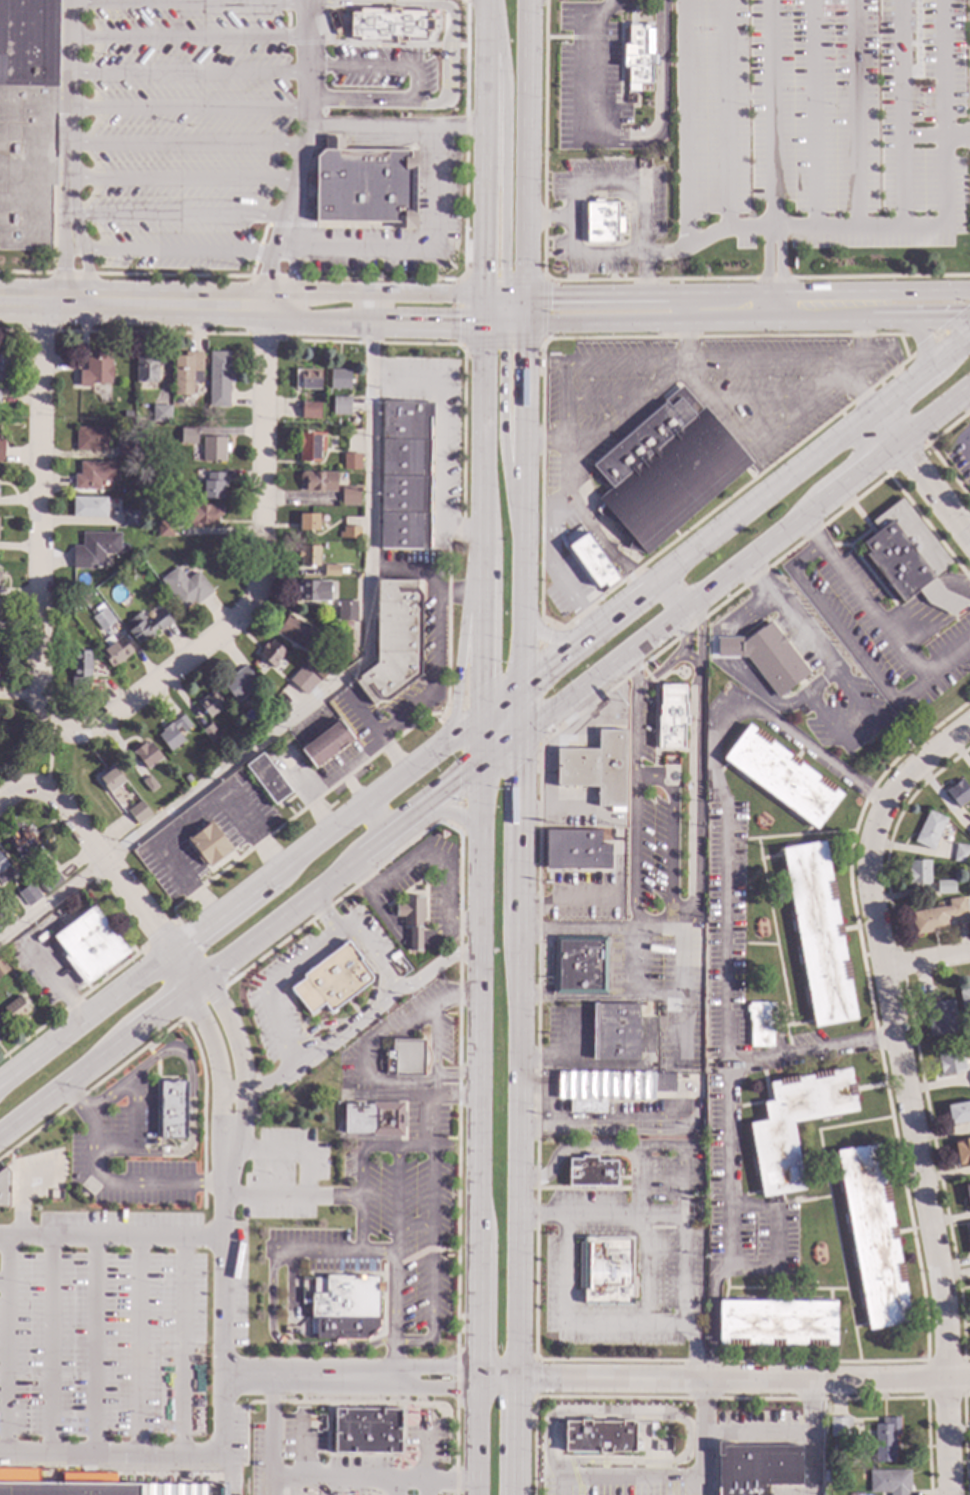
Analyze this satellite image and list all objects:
road: (189, 4)
road: (480, 4)
building: (389, 25)
road: (189, 37)
building: (638, 55)
road: (189, 74)
road: (597, 77)
road: (414, 83)
road: (665, 92)
road: (189, 109)
building: (27, 119)
road: (396, 126)
road: (957, 136)
road: (69, 144)
road: (187, 145)
road: (305, 147)
road: (522, 147)
road: (505, 166)
road: (685, 172)
road: (184, 180)
building: (365, 185)
road: (179, 218)
building: (602, 221)
road: (934, 227)
road: (414, 242)
road: (176, 251)
road: (584, 253)
road: (665, 254)
road: (231, 275)
road: (912, 289)
road: (241, 290)
road: (608, 292)
traffic signals: (484, 293)
road: (502, 293)
traffic signals: (509, 294)
traffic signals: (521, 294)
road: (772, 306)
road: (521, 308)
road: (260, 317)
road: (912, 319)
road: (605, 322)
traffic signals: (483, 323)
traffic signals: (498, 323)
traffic signals: (521, 323)
road: (687, 337)
road: (539, 341)
road: (923, 342)
road: (772, 360)
road: (857, 361)
road: (587, 362)
building: (3, 367)
building: (145, 367)
building: (95, 371)
building: (187, 372)
building: (339, 378)
building: (218, 379)
building: (310, 379)
road: (963, 399)
building: (341, 405)
road: (709, 405)
building: (310, 409)
road: (503, 410)
road: (931, 410)
road: (629, 411)
building: (127, 413)
building: (161, 413)
road: (799, 419)
road: (883, 425)
building: (188, 435)
building: (91, 438)
road: (263, 438)
road: (440, 438)
road: (965, 445)
building: (310, 448)
building: (1, 449)
building: (213, 449)
road: (567, 449)
building: (127, 450)
building: (351, 461)
road: (856, 468)
building: (666, 470)
building: (95, 474)
building: (404, 476)
building: (318, 481)
building: (212, 486)
road: (931, 493)
road: (38, 495)
building: (350, 496)
road: (521, 503)
building: (89, 507)
building: (154, 507)
building: (201, 515)
building: (129, 517)
building: (308, 521)
building: (164, 528)
road: (594, 531)
building: (350, 532)
building: (94, 549)
building: (308, 555)
building: (908, 558)
building: (591, 560)
road: (563, 568)
road: (407, 569)
building: (331, 570)
building: (185, 587)
building: (314, 590)
road: (671, 591)
road: (957, 594)
building: (797, 605)
building: (72, 609)
building: (347, 610)
road: (786, 612)
building: (101, 616)
road: (669, 616)
road: (917, 621)
road: (877, 623)
building: (146, 625)
building: (347, 626)
road: (698, 630)
building: (298, 633)
road: (547, 634)
road: (841, 634)
building: (393, 641)
building: (115, 651)
building: (272, 653)
road: (460, 653)
building: (351, 656)
road: (686, 656)
building: (766, 656)
road: (438, 661)
building: (339, 666)
building: (320, 667)
building: (80, 671)
road: (741, 677)
building: (303, 680)
building: (239, 683)
traffic signals: (521, 683)
road: (155, 684)
road: (327, 688)
building: (210, 704)
building: (917, 705)
road: (487, 709)
road: (520, 709)
building: (283, 710)
traffic signals: (482, 714)
building: (670, 718)
building: (182, 724)
road: (374, 732)
building: (210, 733)
building: (247, 734)
traffic signals: (520, 735)
road: (864, 736)
building: (170, 738)
building: (326, 743)
road: (480, 747)
building: (147, 754)
road: (549, 754)
road: (49, 757)
road: (345, 768)
traffic signals: (480, 768)
building: (597, 769)
road: (470, 774)
building: (782, 776)
building: (267, 778)
building: (110, 779)
road: (7, 784)
building: (149, 784)
building: (958, 792)
road: (15, 793)
road: (307, 796)
road: (693, 802)
building: (138, 812)
road: (450, 812)
road: (573, 815)
road: (193, 818)
road: (376, 819)
road: (874, 826)
building: (929, 830)
building: (969, 833)
road: (388, 835)
building: (22, 842)
building: (207, 842)
building: (575, 850)
road: (433, 852)
building: (961, 853)
road: (631, 865)
building: (5, 871)
building: (918, 871)
road: (118, 877)
building: (52, 879)
building: (944, 887)
building: (29, 894)
road: (304, 898)
road: (560, 903)
building: (4, 913)
building: (936, 916)
road: (322, 917)
building: (411, 920)
road: (576, 929)
building: (818, 933)
road: (354, 938)
building: (90, 945)
road: (723, 947)
building: (393, 957)
road: (927, 959)
road: (222, 960)
road: (438, 964)
building: (580, 965)
building: (3, 968)
building: (329, 981)
road: (678, 992)
road: (651, 996)
road: (456, 997)
road: (571, 997)
building: (964, 999)
road: (159, 1007)
building: (16, 1009)
building: (939, 1014)
building: (760, 1023)
road: (409, 1028)
building: (0, 1030)
building: (0, 1031)
building: (615, 1031)
road: (435, 1043)
road: (809, 1048)
road: (552, 1051)
road: (237, 1054)
building: (404, 1058)
road: (215, 1059)
building: (951, 1062)
road: (630, 1064)
road: (63, 1082)
road: (267, 1083)
building: (610, 1087)
road: (616, 1088)
road: (552, 1090)
road: (230, 1091)
road: (403, 1091)
road: (191, 1092)
road: (450, 1096)
road: (549, 1106)
building: (172, 1109)
building: (958, 1112)
road: (134, 1113)
road: (518, 1114)
building: (374, 1118)
road: (424, 1119)
road: (644, 1126)
building: (773, 1140)
road: (571, 1147)
road: (380, 1148)
road: (414, 1148)
building: (962, 1151)
building: (592, 1171)
road: (305, 1177)
road: (104, 1182)
building: (3, 1187)
road: (431, 1188)
road: (20, 1192)
building: (967, 1194)
road: (333, 1196)
road: (613, 1217)
building: (969, 1228)
road: (929, 1230)
road: (776, 1235)
road: (110, 1236)
building: (872, 1236)
road: (682, 1245)
road: (333, 1254)
building: (606, 1270)
road: (2, 1283)
road: (431, 1284)
building: (345, 1296)
road: (394, 1315)
road: (602, 1322)
road: (661, 1323)
building: (776, 1323)
road: (5, 1343)
road: (49, 1344)
road: (95, 1344)
road: (137, 1345)
road: (182, 1345)
road: (289, 1347)
road: (231, 1375)
road: (723, 1381)
road: (222, 1415)
building: (839, 1427)
road: (696, 1428)
road: (779, 1428)
building: (366, 1430)
road: (272, 1435)
building: (599, 1436)
road: (703, 1438)
building: (885, 1439)
road: (547, 1451)
road: (111, 1453)
road: (427, 1454)
road: (807, 1462)
building: (754, 1467)
road: (660, 1471)
road: (232, 1473)
road: (562, 1473)
building: (827, 1474)
road: (373, 1478)
road: (623, 1479)
building: (889, 1481)
building: (85, 1486)
road: (398, 1487)
road: (427, 1487)

